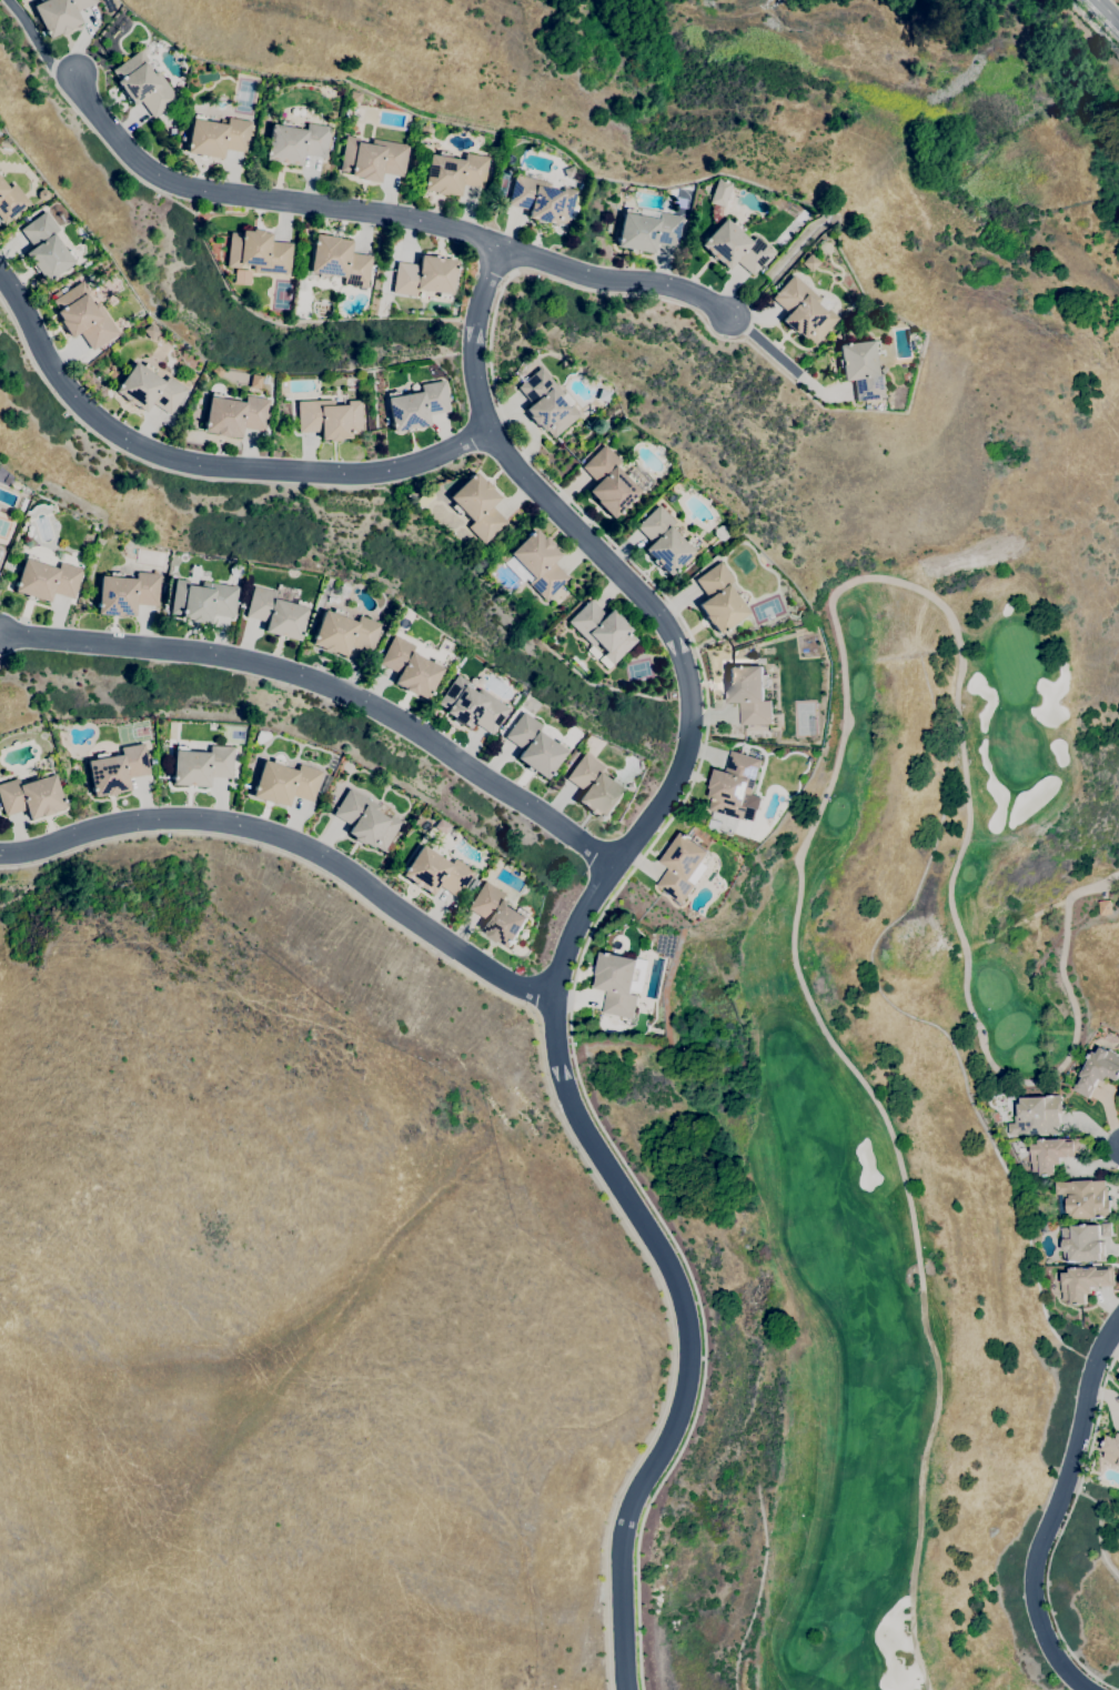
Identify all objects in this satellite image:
road: (1107, 11)
building: (59, 14)
road: (1095, 24)
road: (40, 39)
building: (143, 84)
building: (216, 137)
building: (295, 142)
building: (372, 159)
building: (567, 172)
building: (453, 173)
building: (0, 174)
road: (264, 198)
building: (541, 200)
building: (10, 201)
building: (648, 229)
building: (732, 237)
building: (46, 248)
building: (258, 252)
building: (339, 261)
building: (809, 262)
building: (424, 276)
road: (614, 279)
road: (664, 301)
building: (803, 310)
building: (82, 315)
building: (151, 332)
road: (763, 342)
building: (861, 369)
building: (190, 376)
building: (149, 389)
building: (603, 395)
building: (546, 403)
building: (416, 406)
building: (867, 406)
building: (234, 415)
building: (330, 419)
road: (202, 464)
building: (608, 482)
building: (424, 499)
building: (477, 506)
building: (720, 533)
building: (663, 541)
building: (536, 564)
building: (235, 571)
building: (194, 573)
building: (253, 579)
building: (46, 580)
building: (343, 592)
building: (127, 593)
building: (719, 598)
building: (201, 601)
building: (278, 611)
building: (602, 632)
building: (344, 633)
building: (577, 663)
building: (410, 667)
road: (329, 686)
building: (749, 694)
building: (472, 706)
building: (260, 736)
building: (534, 746)
building: (201, 765)
building: (117, 769)
building: (284, 783)
building: (595, 787)
building: (736, 788)
building: (31, 796)
building: (365, 821)
building: (426, 821)
building: (441, 826)
road: (291, 842)
building: (684, 867)
building: (436, 872)
building: (472, 885)
building: (1105, 907)
building: (497, 915)
road: (591, 930)
road: (575, 939)
building: (618, 984)
building: (1098, 1072)
road: (547, 1080)
building: (1118, 1097)
building: (1037, 1116)
park: (908, 1137)
building: (1052, 1154)
building: (1086, 1199)
building: (1107, 1230)
building: (1082, 1243)
building: (1085, 1282)
building: (1118, 1378)
building: (1111, 1449)
road: (1056, 1510)
road: (1061, 1531)

